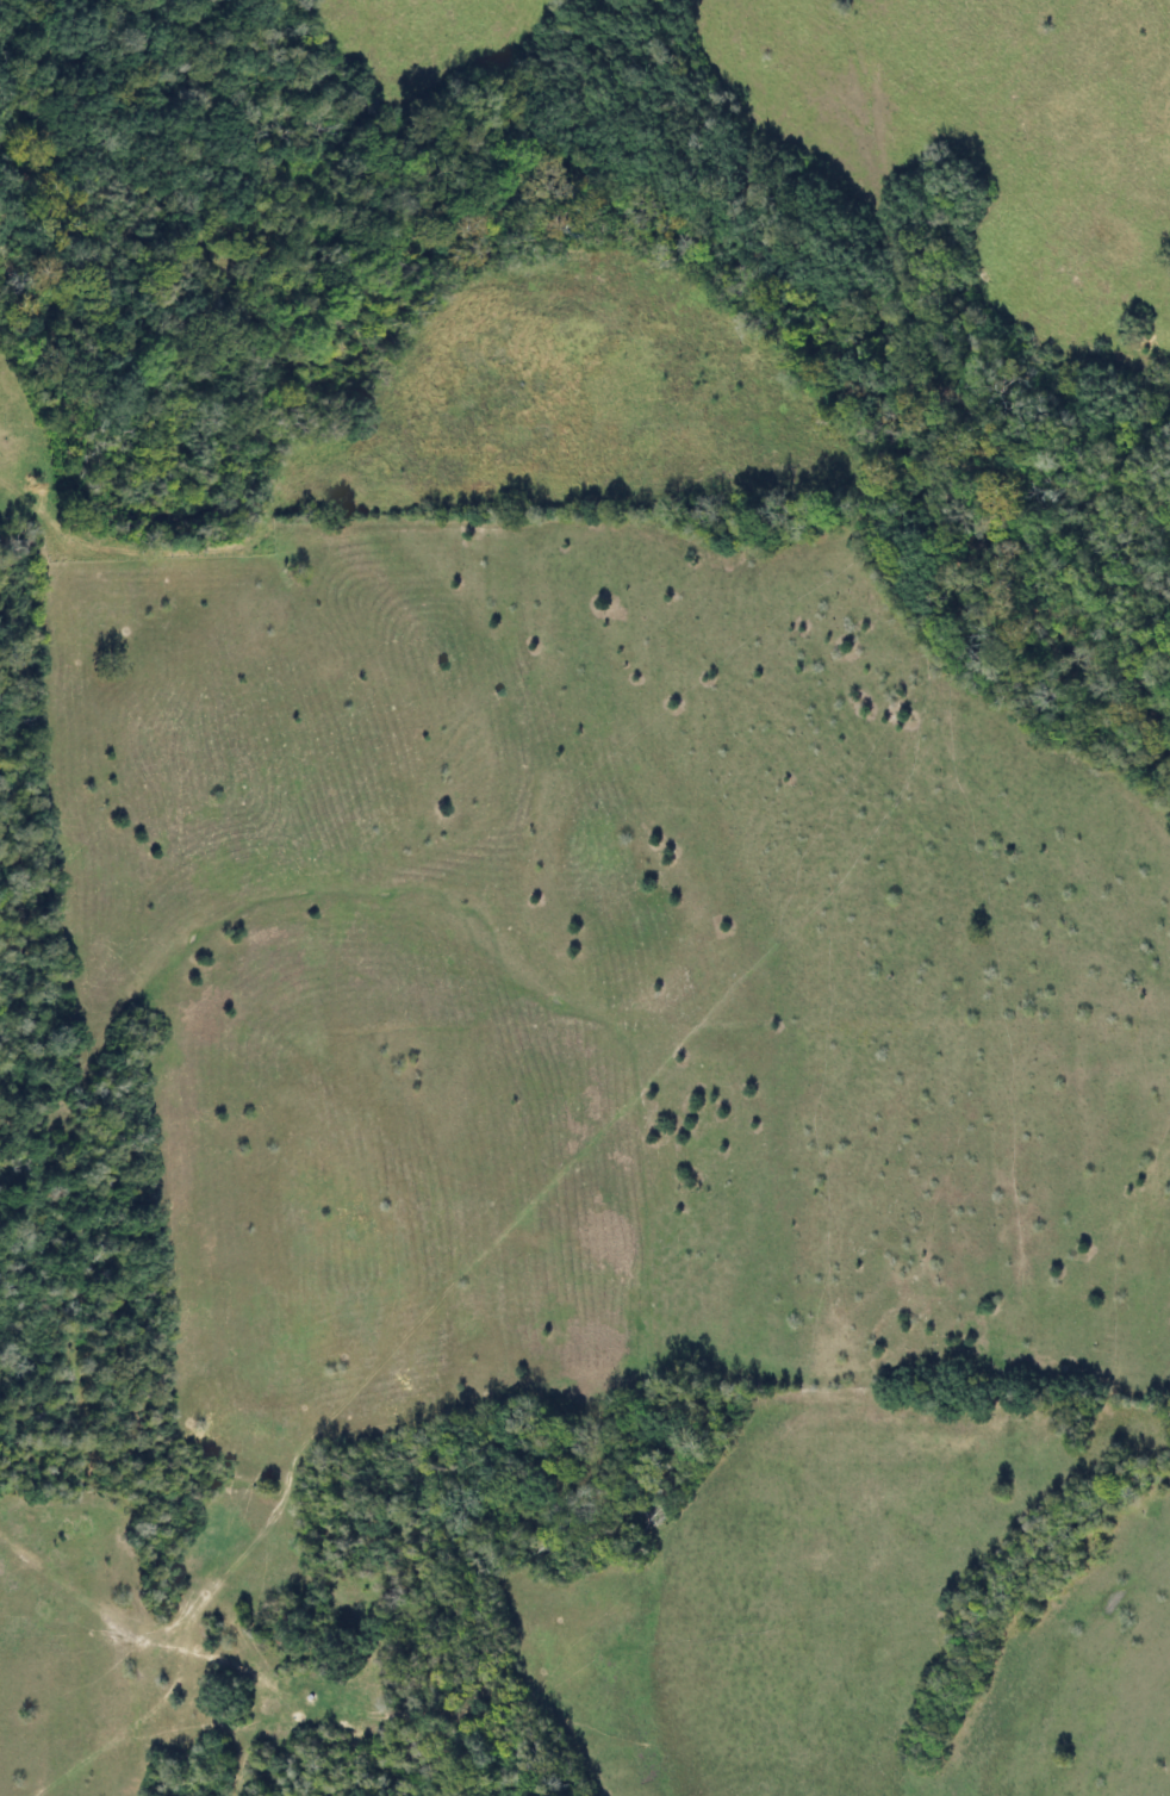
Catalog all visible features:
road: (1162, 8)
road: (174, 1661)

